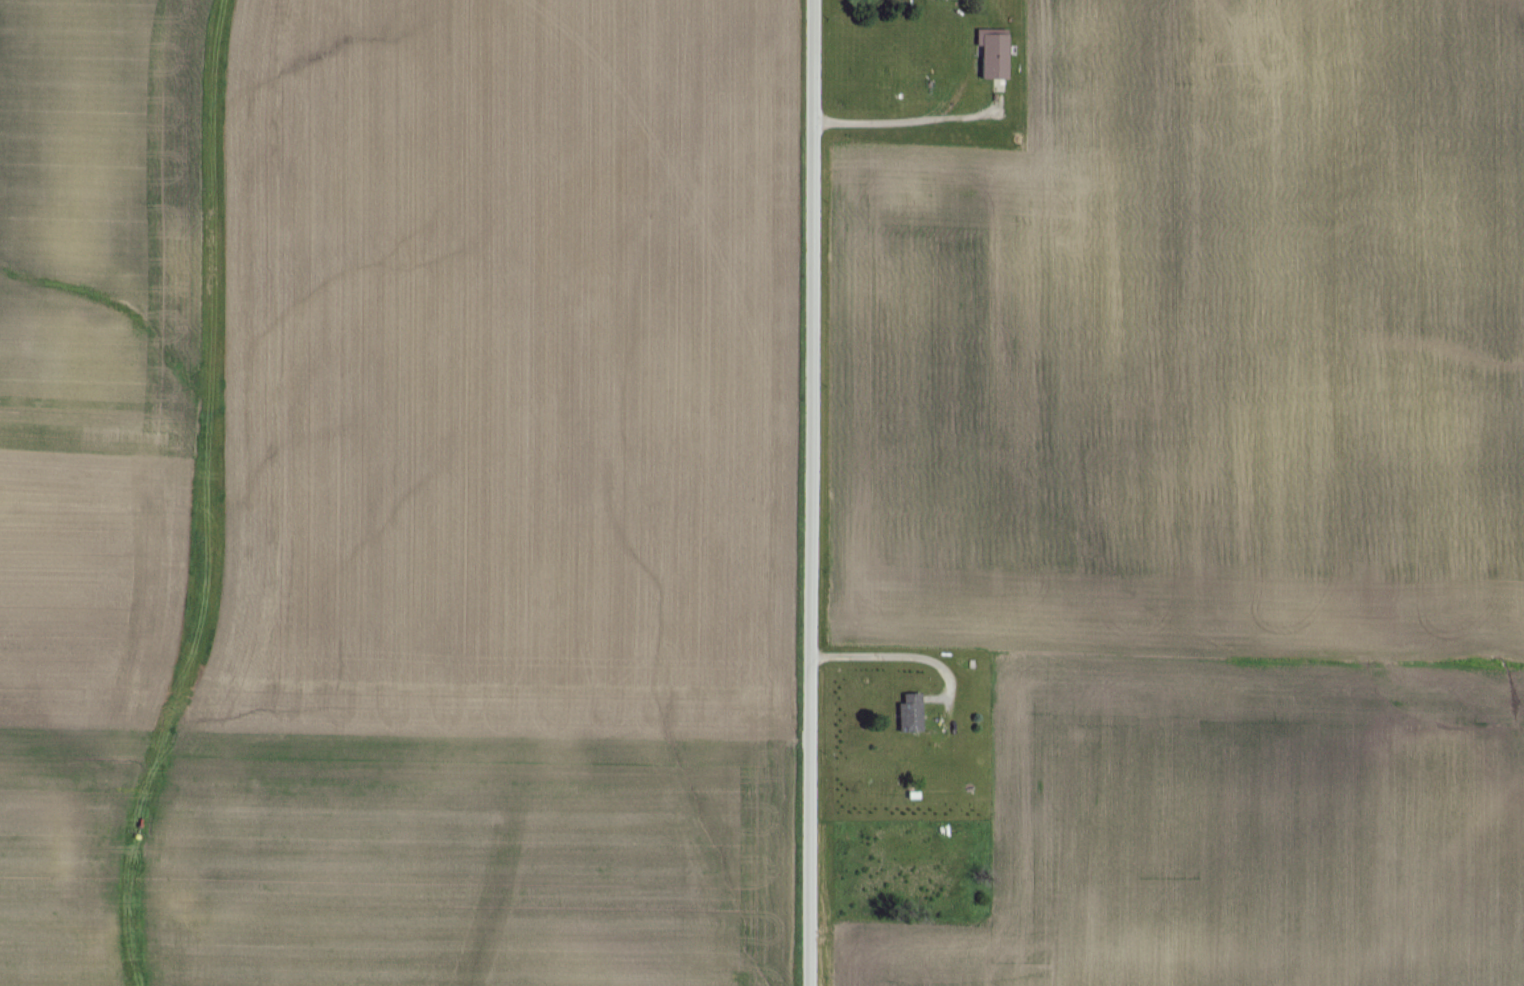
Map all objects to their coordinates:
road: (909, 123)
road: (809, 492)
road: (892, 658)

